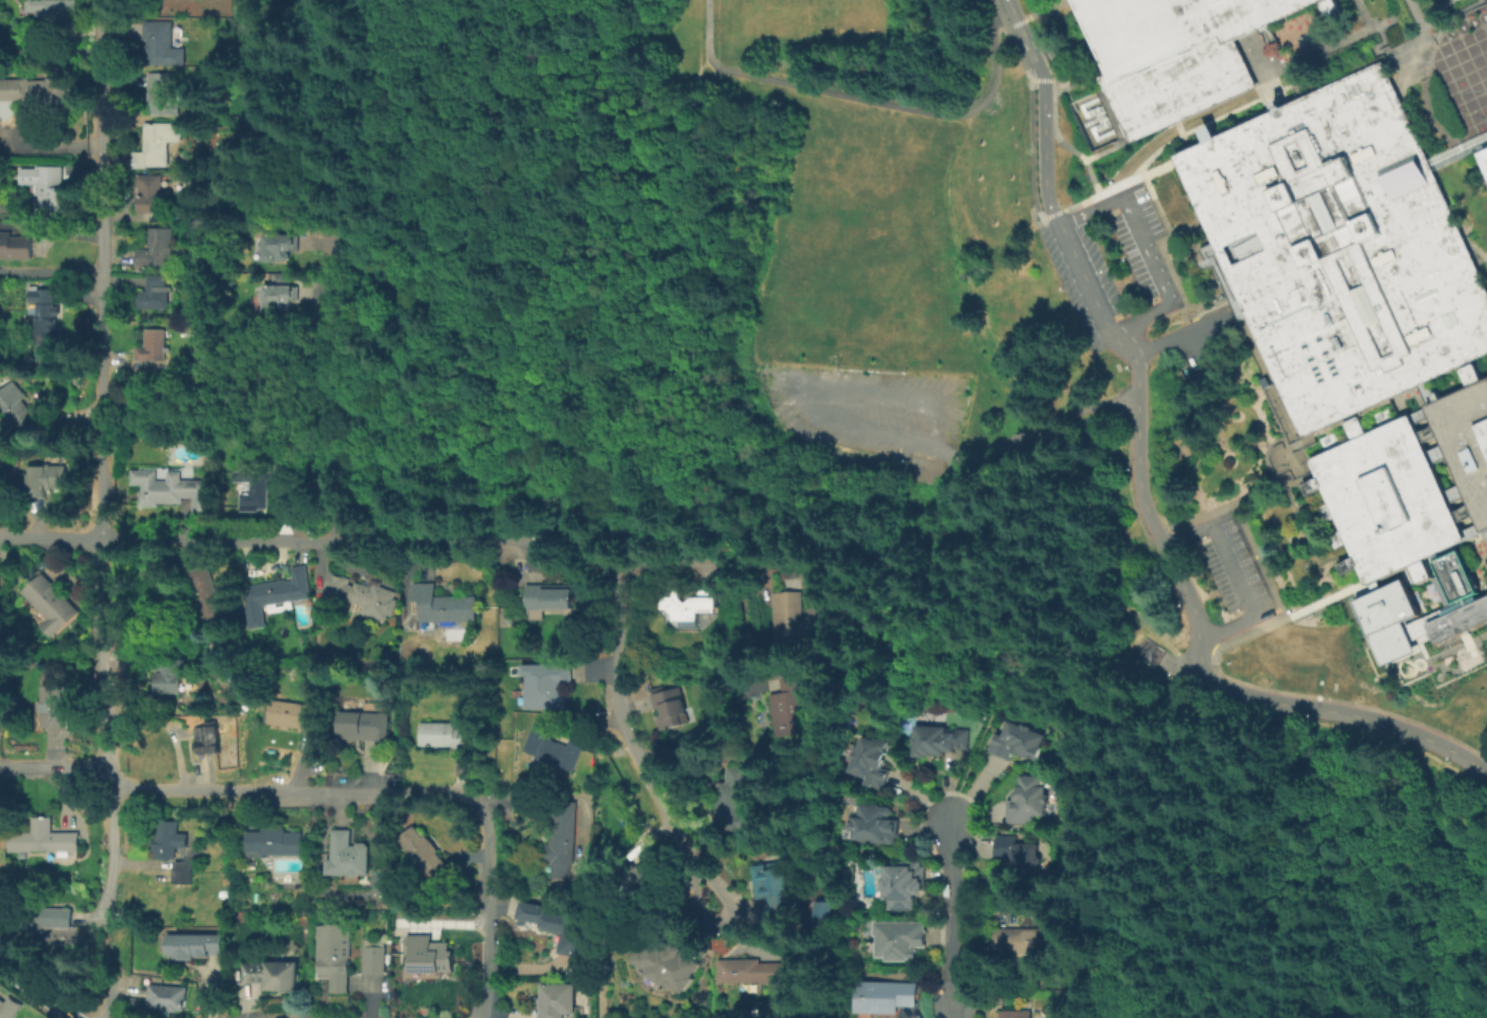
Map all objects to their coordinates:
road: (1010, 4)
building: (57, 7)
road: (1439, 14)
road: (1363, 15)
road: (1417, 16)
road: (708, 31)
road: (1382, 35)
road: (1028, 44)
building: (164, 45)
road: (52, 51)
building: (1174, 53)
road: (1379, 53)
road: (876, 70)
road: (1394, 74)
building: (44, 94)
road: (1246, 95)
building: (163, 96)
road: (899, 106)
road: (1418, 127)
road: (1061, 140)
building: (159, 146)
road: (1458, 153)
building: (1483, 158)
road: (1151, 173)
building: (53, 191)
building: (152, 195)
road: (1165, 225)
road: (51, 230)
road: (1185, 230)
road: (1204, 233)
building: (17, 248)
building: (280, 248)
building: (156, 249)
road: (1145, 249)
building: (1340, 249)
road: (1475, 250)
parking lot: (1102, 254)
road: (507, 256)
park: (533, 266)
road: (51, 270)
road: (103, 270)
road: (966, 277)
building: (280, 294)
building: (155, 295)
road: (1210, 310)
road: (635, 314)
building: (47, 318)
road: (1181, 335)
road: (1251, 337)
building: (154, 348)
road: (338, 380)
building: (14, 407)
road: (889, 435)
building: (121, 442)
building: (1466, 442)
road: (1269, 450)
building: (0, 471)
road: (754, 471)
building: (45, 482)
road: (1272, 482)
building: (174, 489)
building: (255, 490)
building: (1386, 499)
road: (751, 510)
road: (1152, 522)
road: (1242, 522)
road: (1484, 526)
road: (954, 532)
road: (1472, 532)
road: (50, 539)
road: (345, 542)
road: (614, 545)
road: (604, 547)
road: (1099, 548)
road: (688, 556)
road: (1413, 558)
parking lot: (1232, 569)
building: (1419, 571)
building: (363, 595)
building: (207, 596)
building: (278, 598)
building: (551, 599)
road: (1324, 599)
building: (1457, 599)
building: (690, 605)
building: (53, 606)
building: (445, 607)
building: (1388, 620)
building: (791, 621)
road: (1248, 633)
road: (1195, 652)
road: (103, 659)
road: (1082, 677)
building: (172, 685)
building: (546, 686)
building: (54, 708)
building: (791, 709)
building: (672, 710)
building: (291, 716)
building: (365, 726)
building: (445, 739)
building: (209, 741)
building: (940, 742)
road: (630, 744)
building: (1019, 745)
building: (554, 750)
road: (680, 754)
building: (873, 763)
road: (972, 763)
road: (240, 791)
building: (1029, 801)
building: (735, 803)
building: (876, 827)
building: (564, 840)
building: (46, 841)
building: (275, 844)
building: (170, 846)
road: (111, 851)
building: (1021, 856)
building: (348, 859)
building: (427, 860)
building: (185, 875)
building: (649, 887)
building: (905, 887)
building: (775, 889)
road: (954, 901)
road: (488, 912)
road: (1178, 914)
building: (43, 917)
building: (559, 931)
building: (902, 941)
building: (1030, 942)
building: (195, 944)
building: (335, 957)
building: (429, 958)
road: (107, 960)
building: (375, 962)
building: (665, 962)
building: (757, 972)
building: (275, 978)
road: (35, 992)
building: (884, 998)
road: (953, 998)
building: (168, 1000)
building: (559, 1002)
road: (110, 1006)
building: (10, 1007)
building: (1017, 1013)

